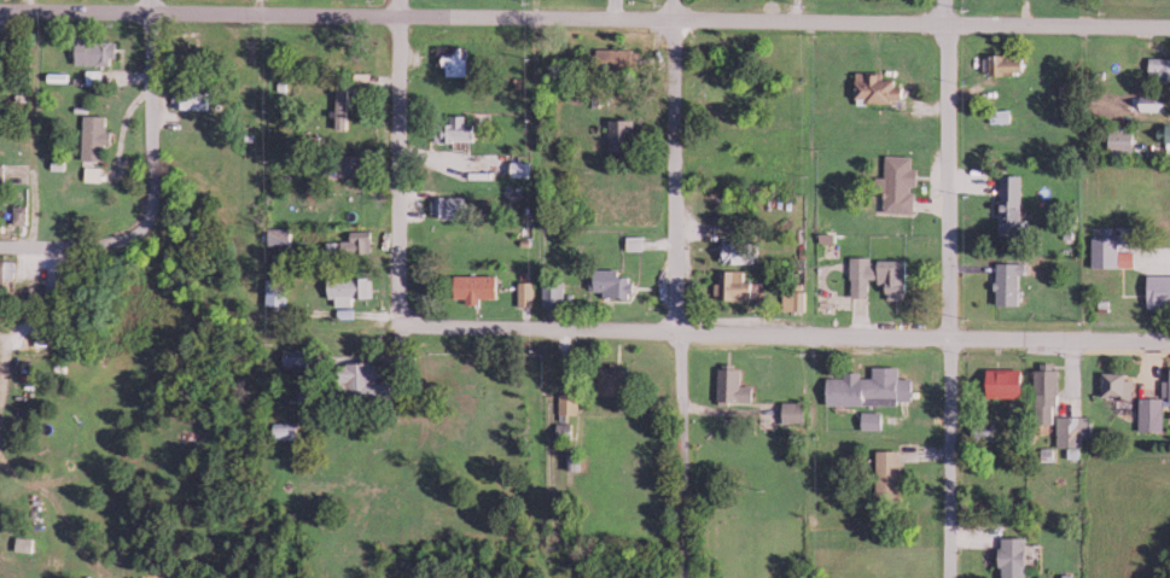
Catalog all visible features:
road: (808, 4)
road: (584, 12)
building: (1009, 63)
building: (1159, 68)
road: (165, 104)
building: (1000, 115)
building: (1164, 132)
building: (1123, 140)
building: (1012, 202)
road: (94, 245)
building: (1111, 252)
building: (1009, 281)
road: (392, 288)
road: (676, 288)
road: (945, 288)
building: (1159, 290)
road: (780, 325)
building: (1008, 381)
building: (1118, 387)
building: (1166, 389)
building: (1047, 393)
building: (1151, 413)
building: (983, 430)
building: (1072, 434)
building: (1015, 556)

